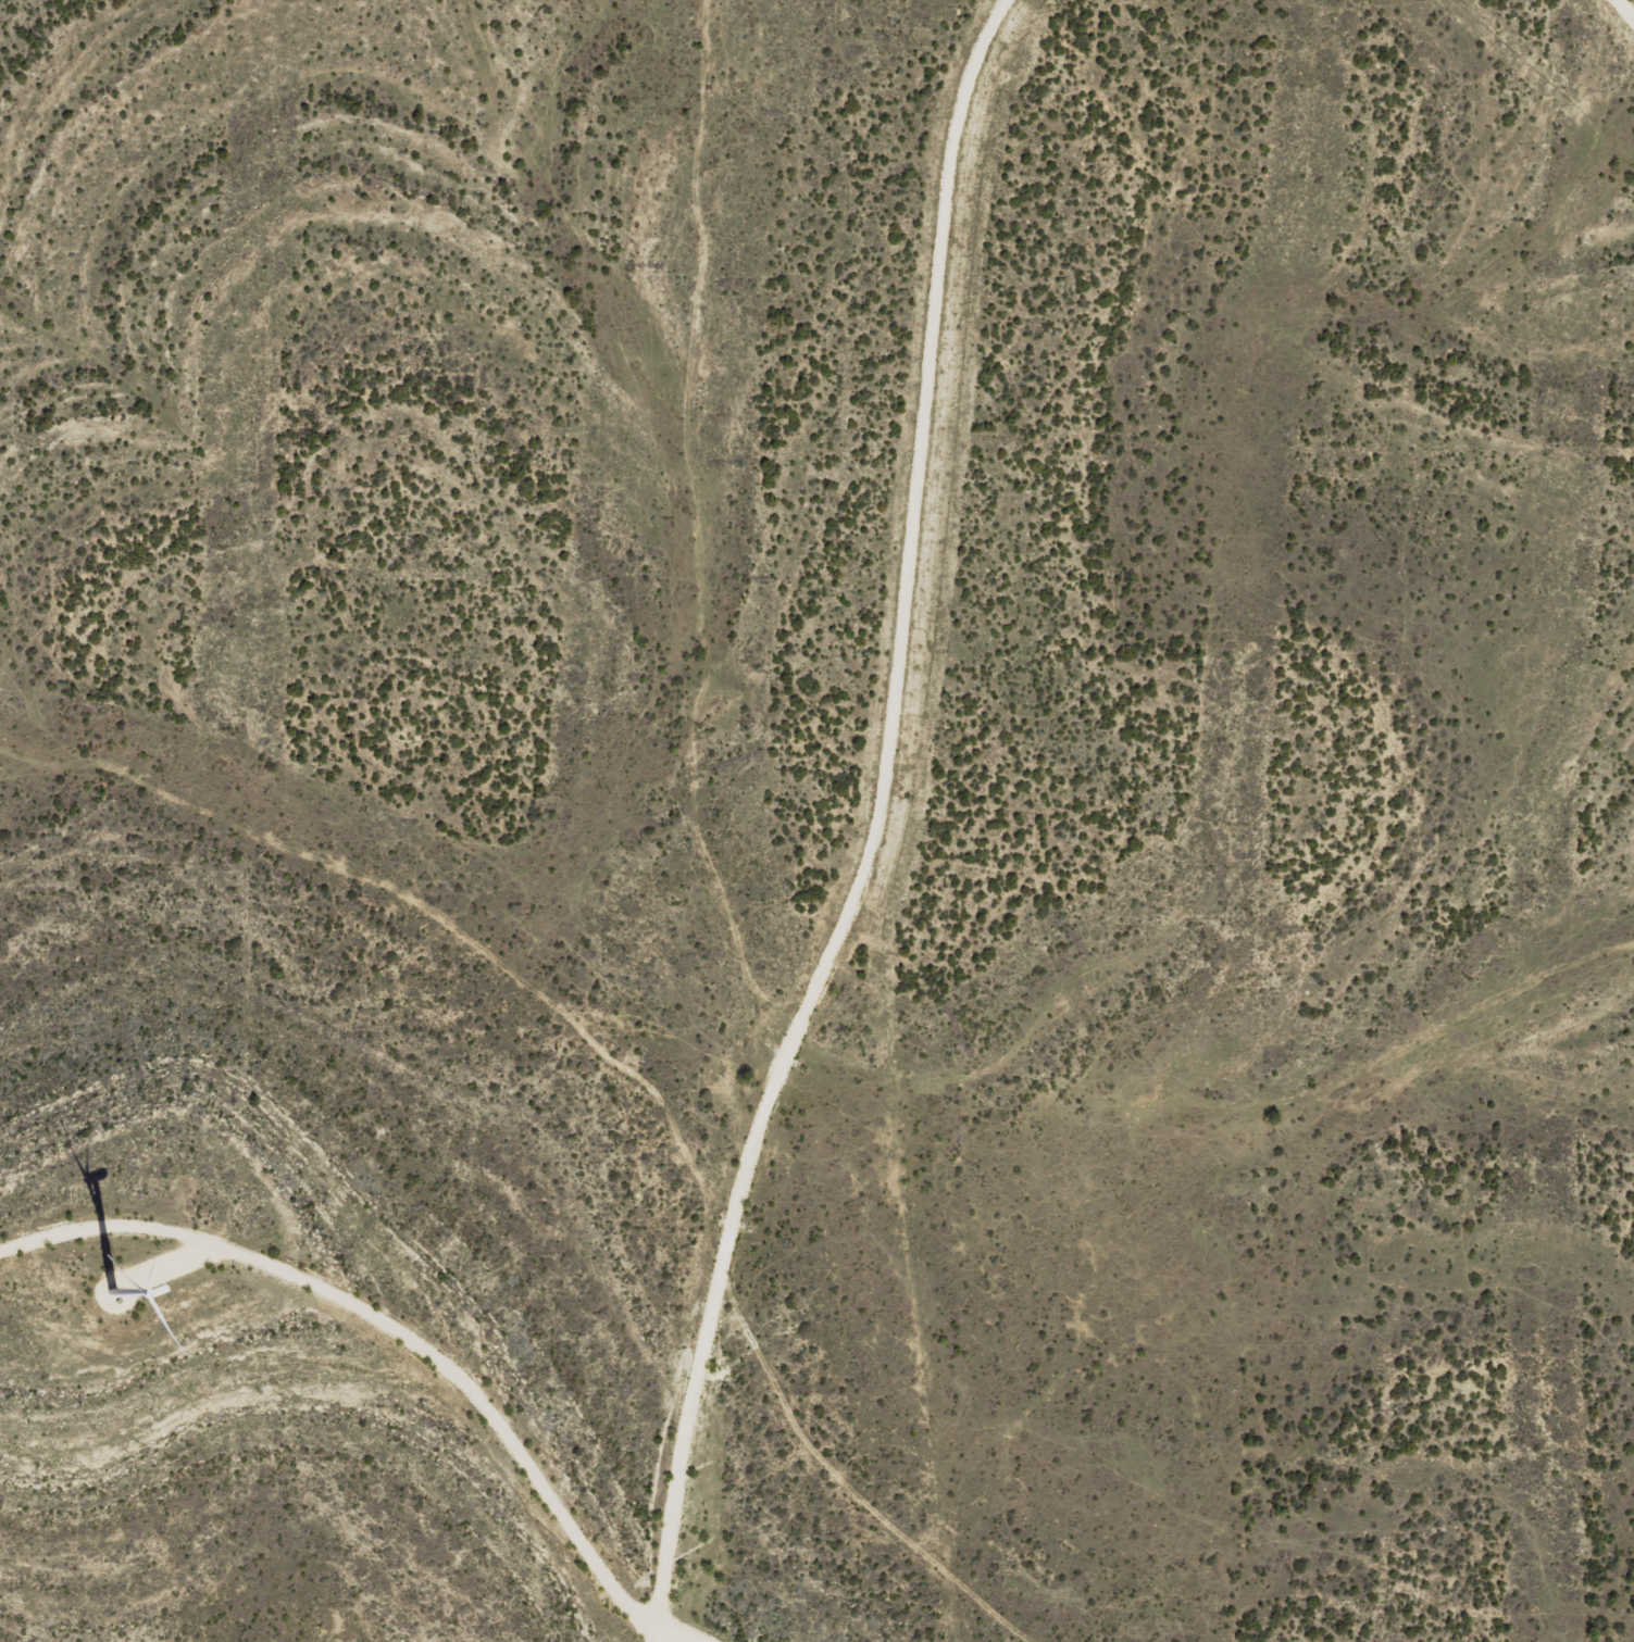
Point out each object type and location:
road: (1624, 10)
road: (875, 836)
wind turbine: (104, 1295)

